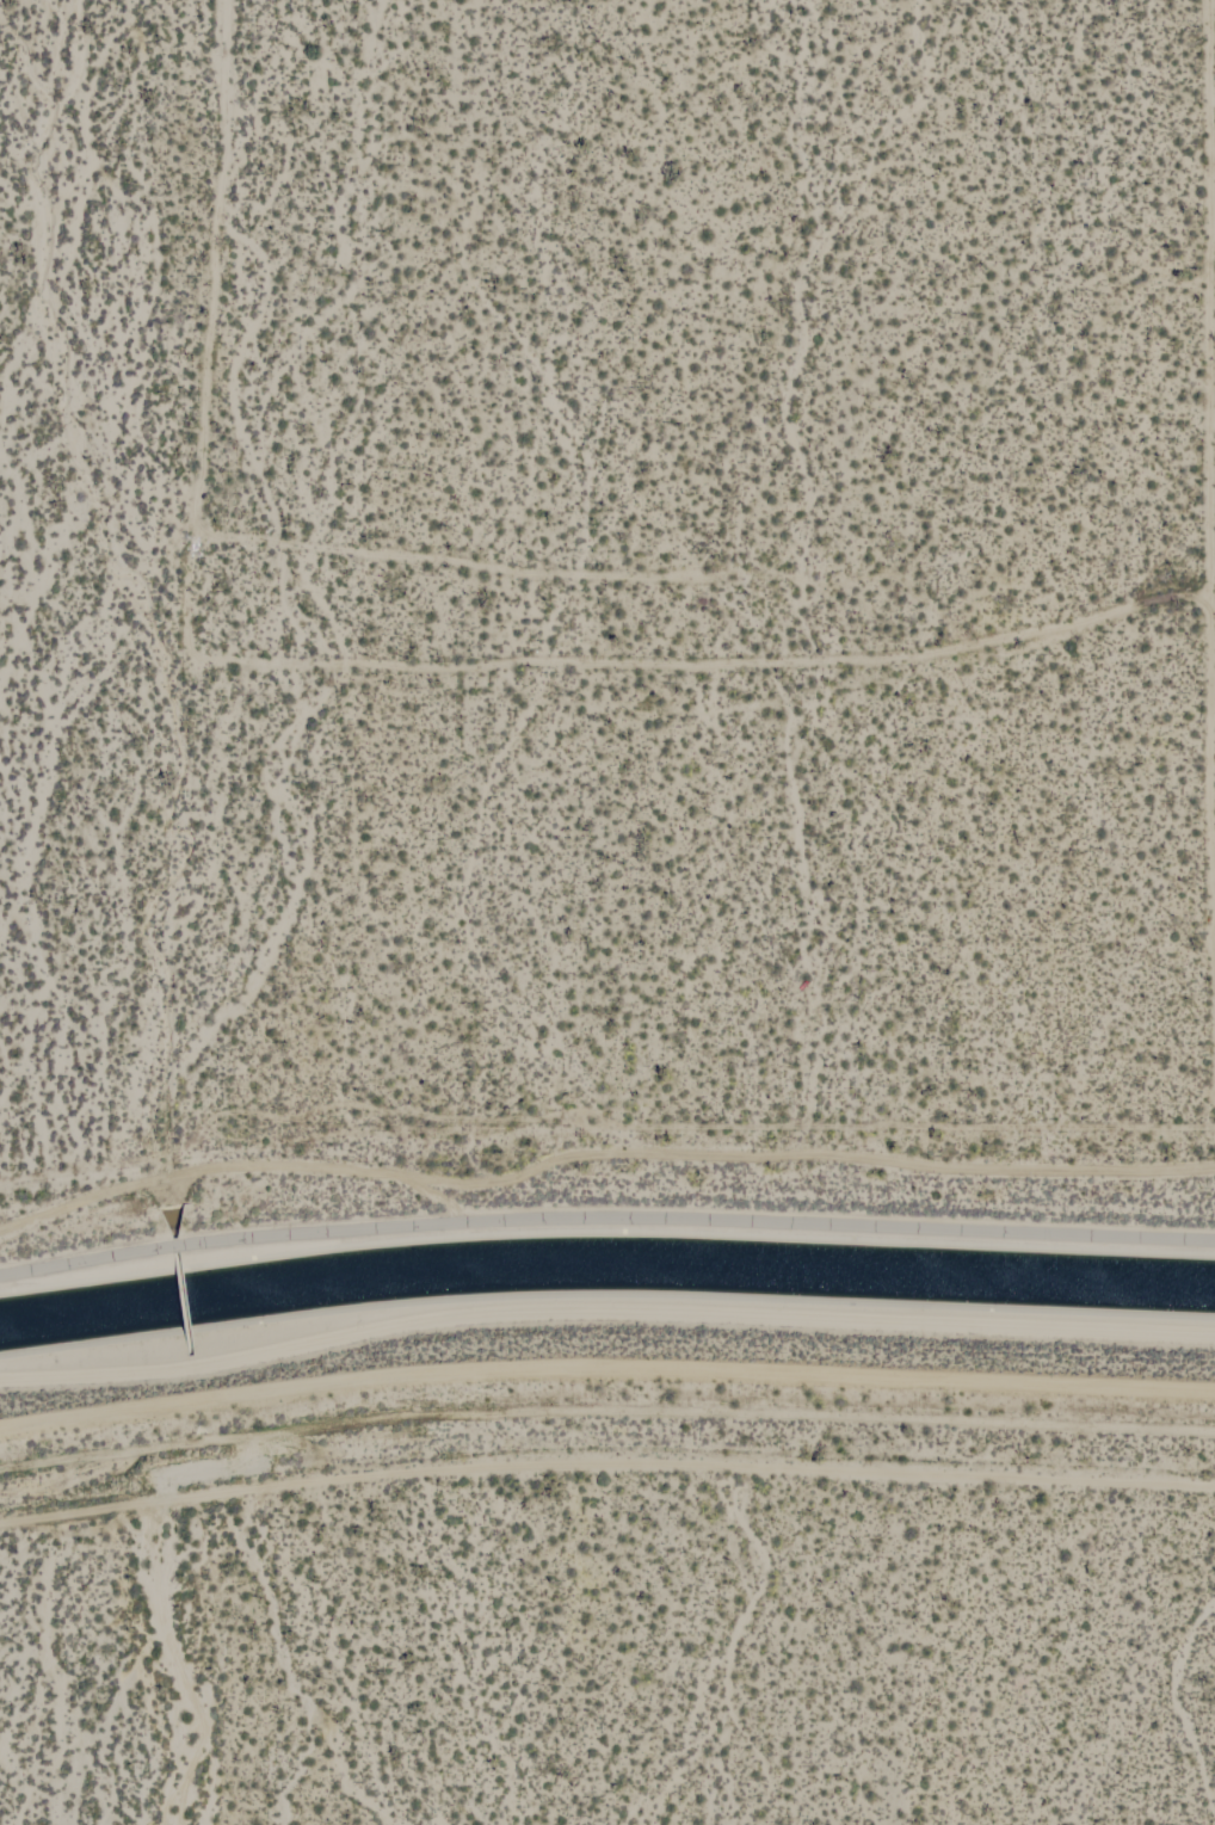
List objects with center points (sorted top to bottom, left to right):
road: (602, 1155)
road: (605, 1457)

